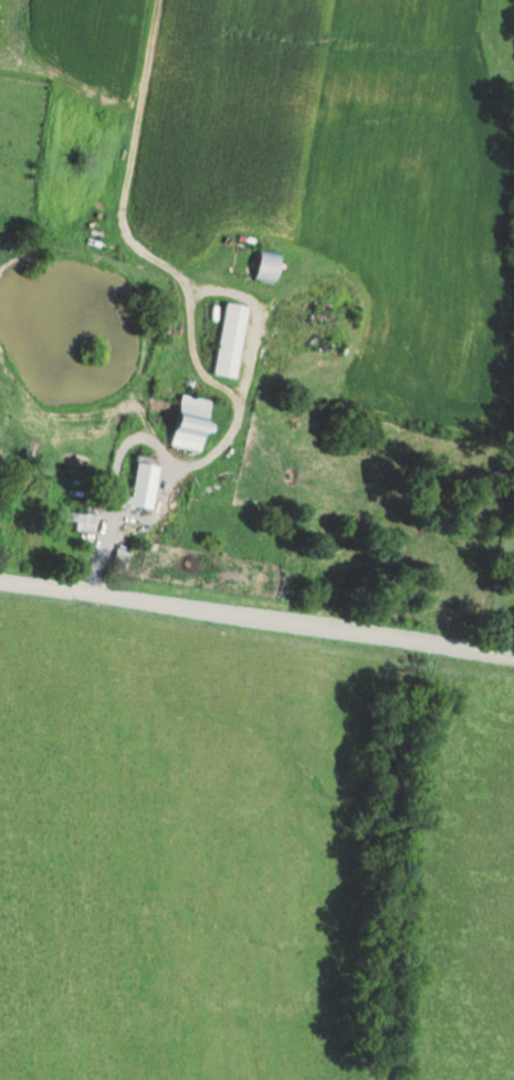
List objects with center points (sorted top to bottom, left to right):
building: (234, 337)
building: (195, 420)
building: (146, 481)
road: (256, 656)

